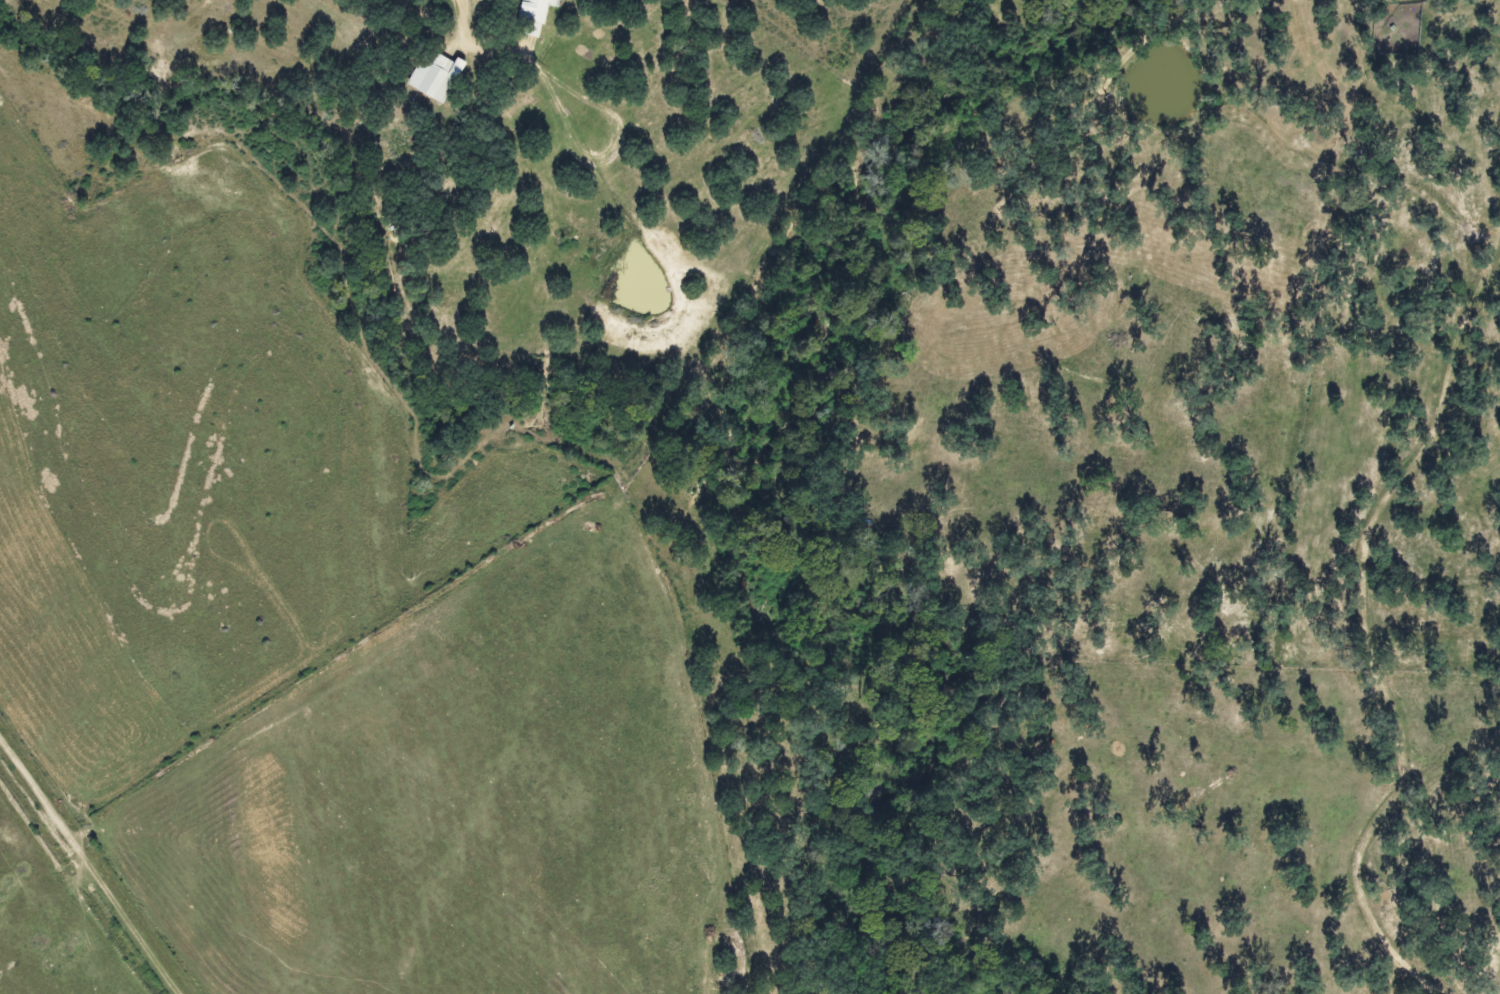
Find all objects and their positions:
building: (559, 0)
building: (528, 17)
building: (431, 79)

